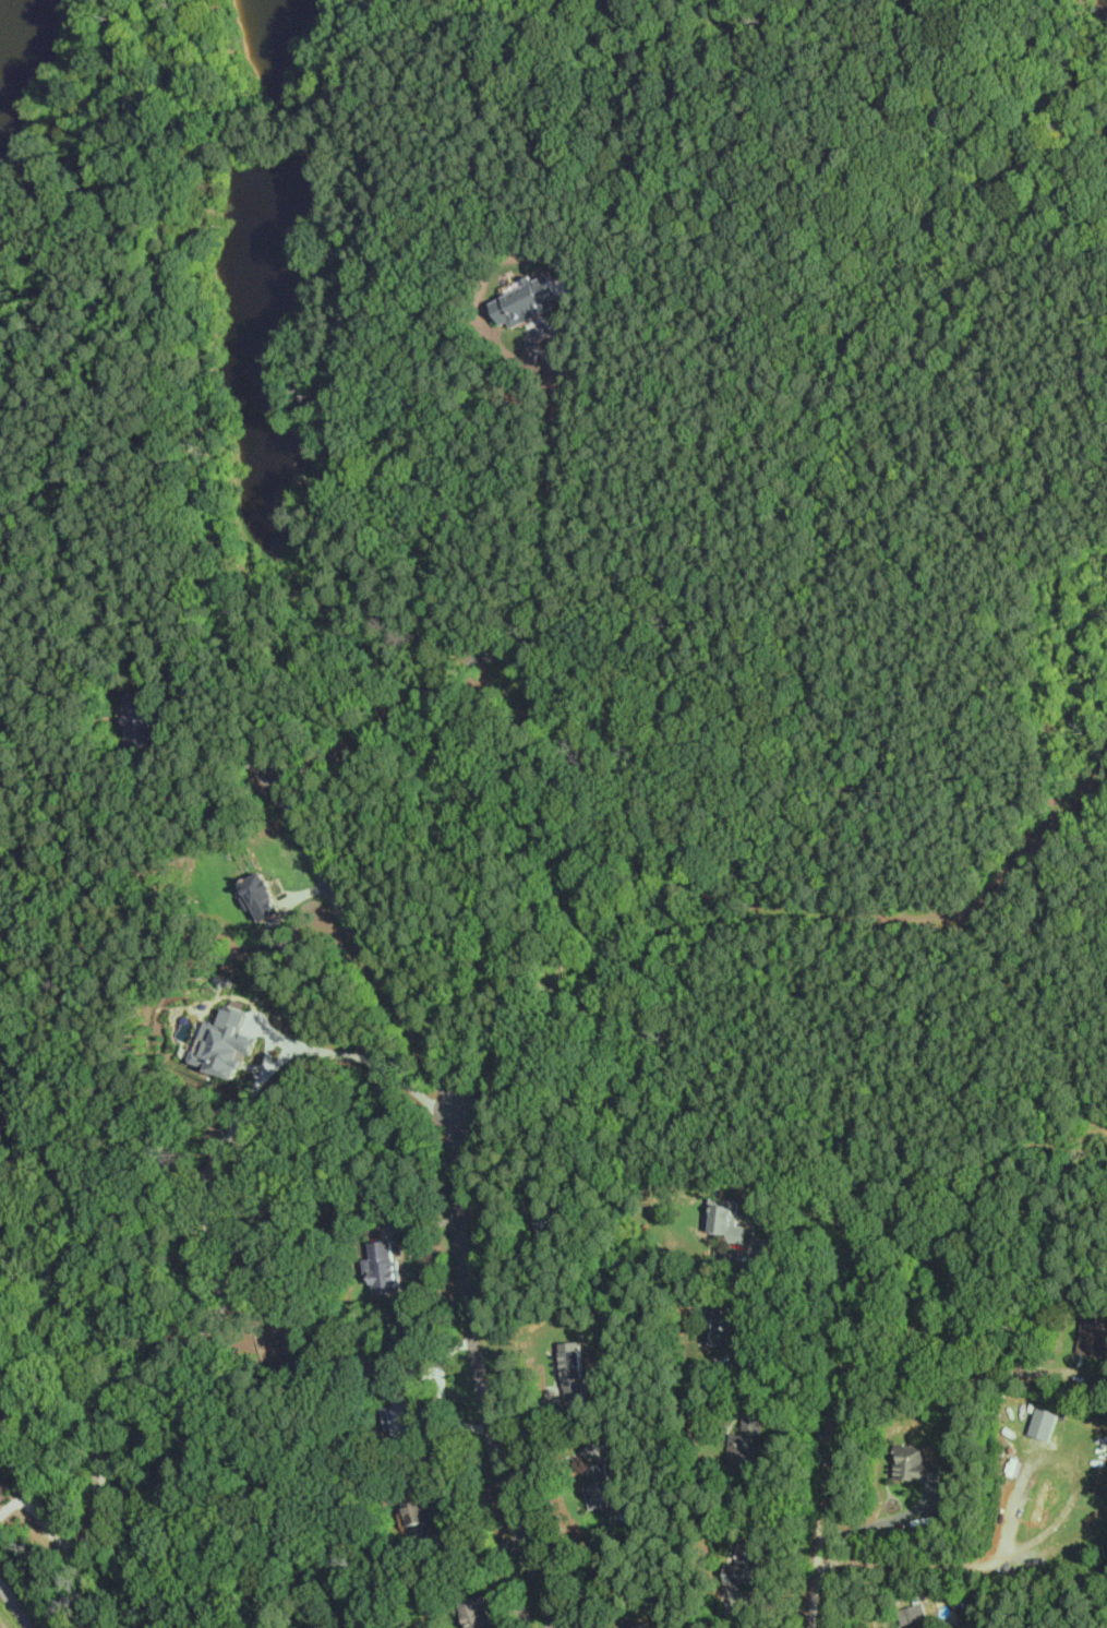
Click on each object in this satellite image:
building: (525, 302)
road: (555, 591)
building: (139, 719)
building: (261, 895)
building: (226, 1042)
road: (458, 1180)
building: (729, 1221)
road: (784, 1252)
building: (383, 1267)
building: (944, 1271)
road: (221, 1280)
building: (718, 1327)
building: (1093, 1338)
building: (575, 1375)
road: (832, 1412)
building: (406, 1421)
building: (1045, 1424)
building: (746, 1447)
building: (916, 1464)
building: (603, 1485)
building: (1040, 1501)
building: (419, 1510)
road: (1037, 1537)
building: (746, 1564)
road: (16, 1603)
building: (478, 1612)
building: (913, 1614)
building: (642, 1625)
building: (976, 1626)

